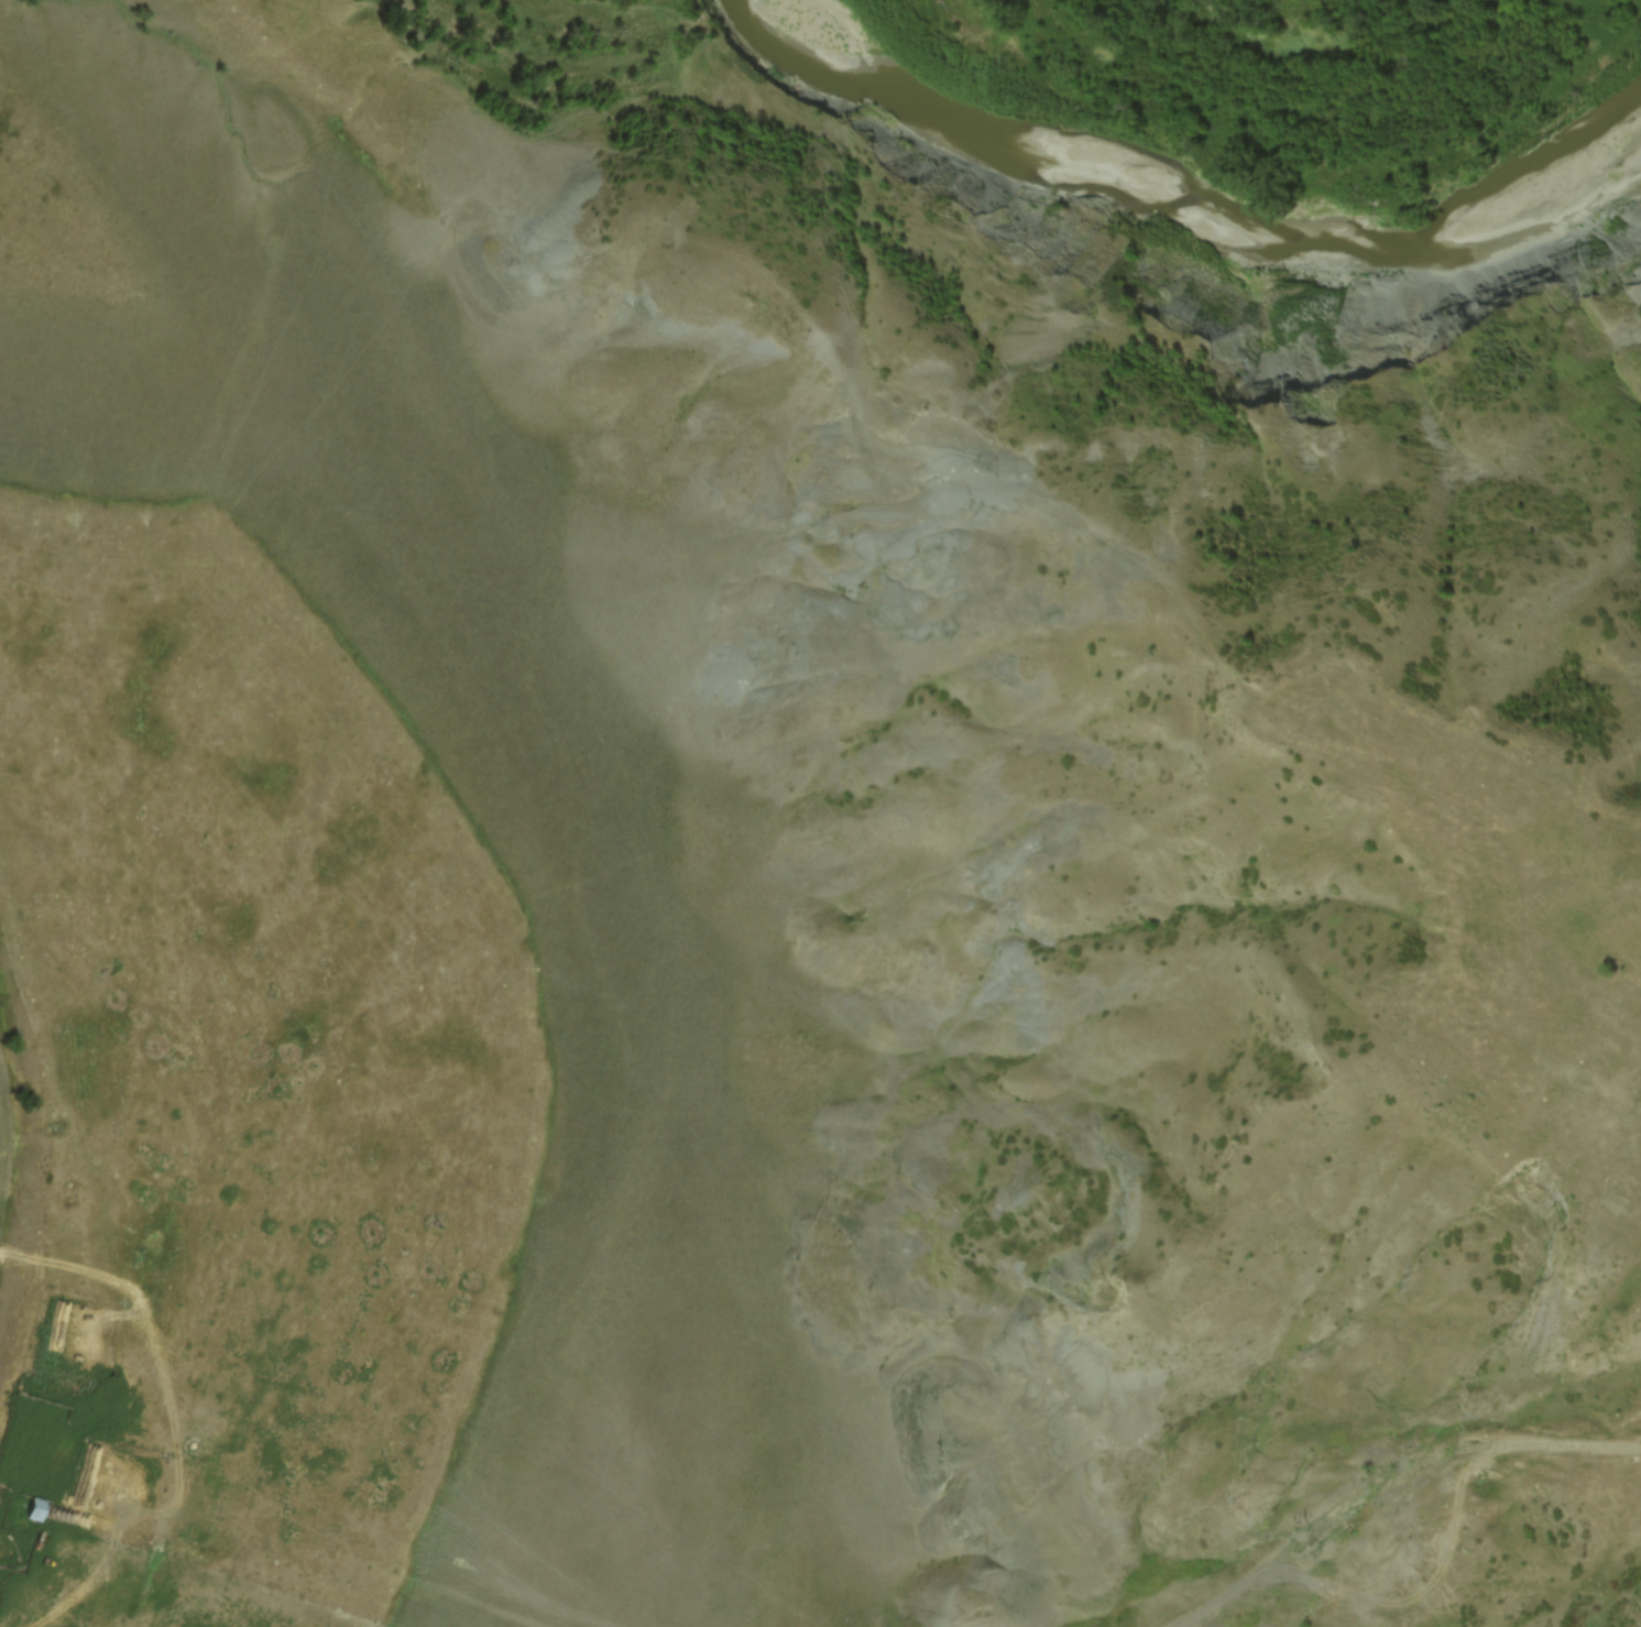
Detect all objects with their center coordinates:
river: (1208, 230)
building: (34, 1508)

